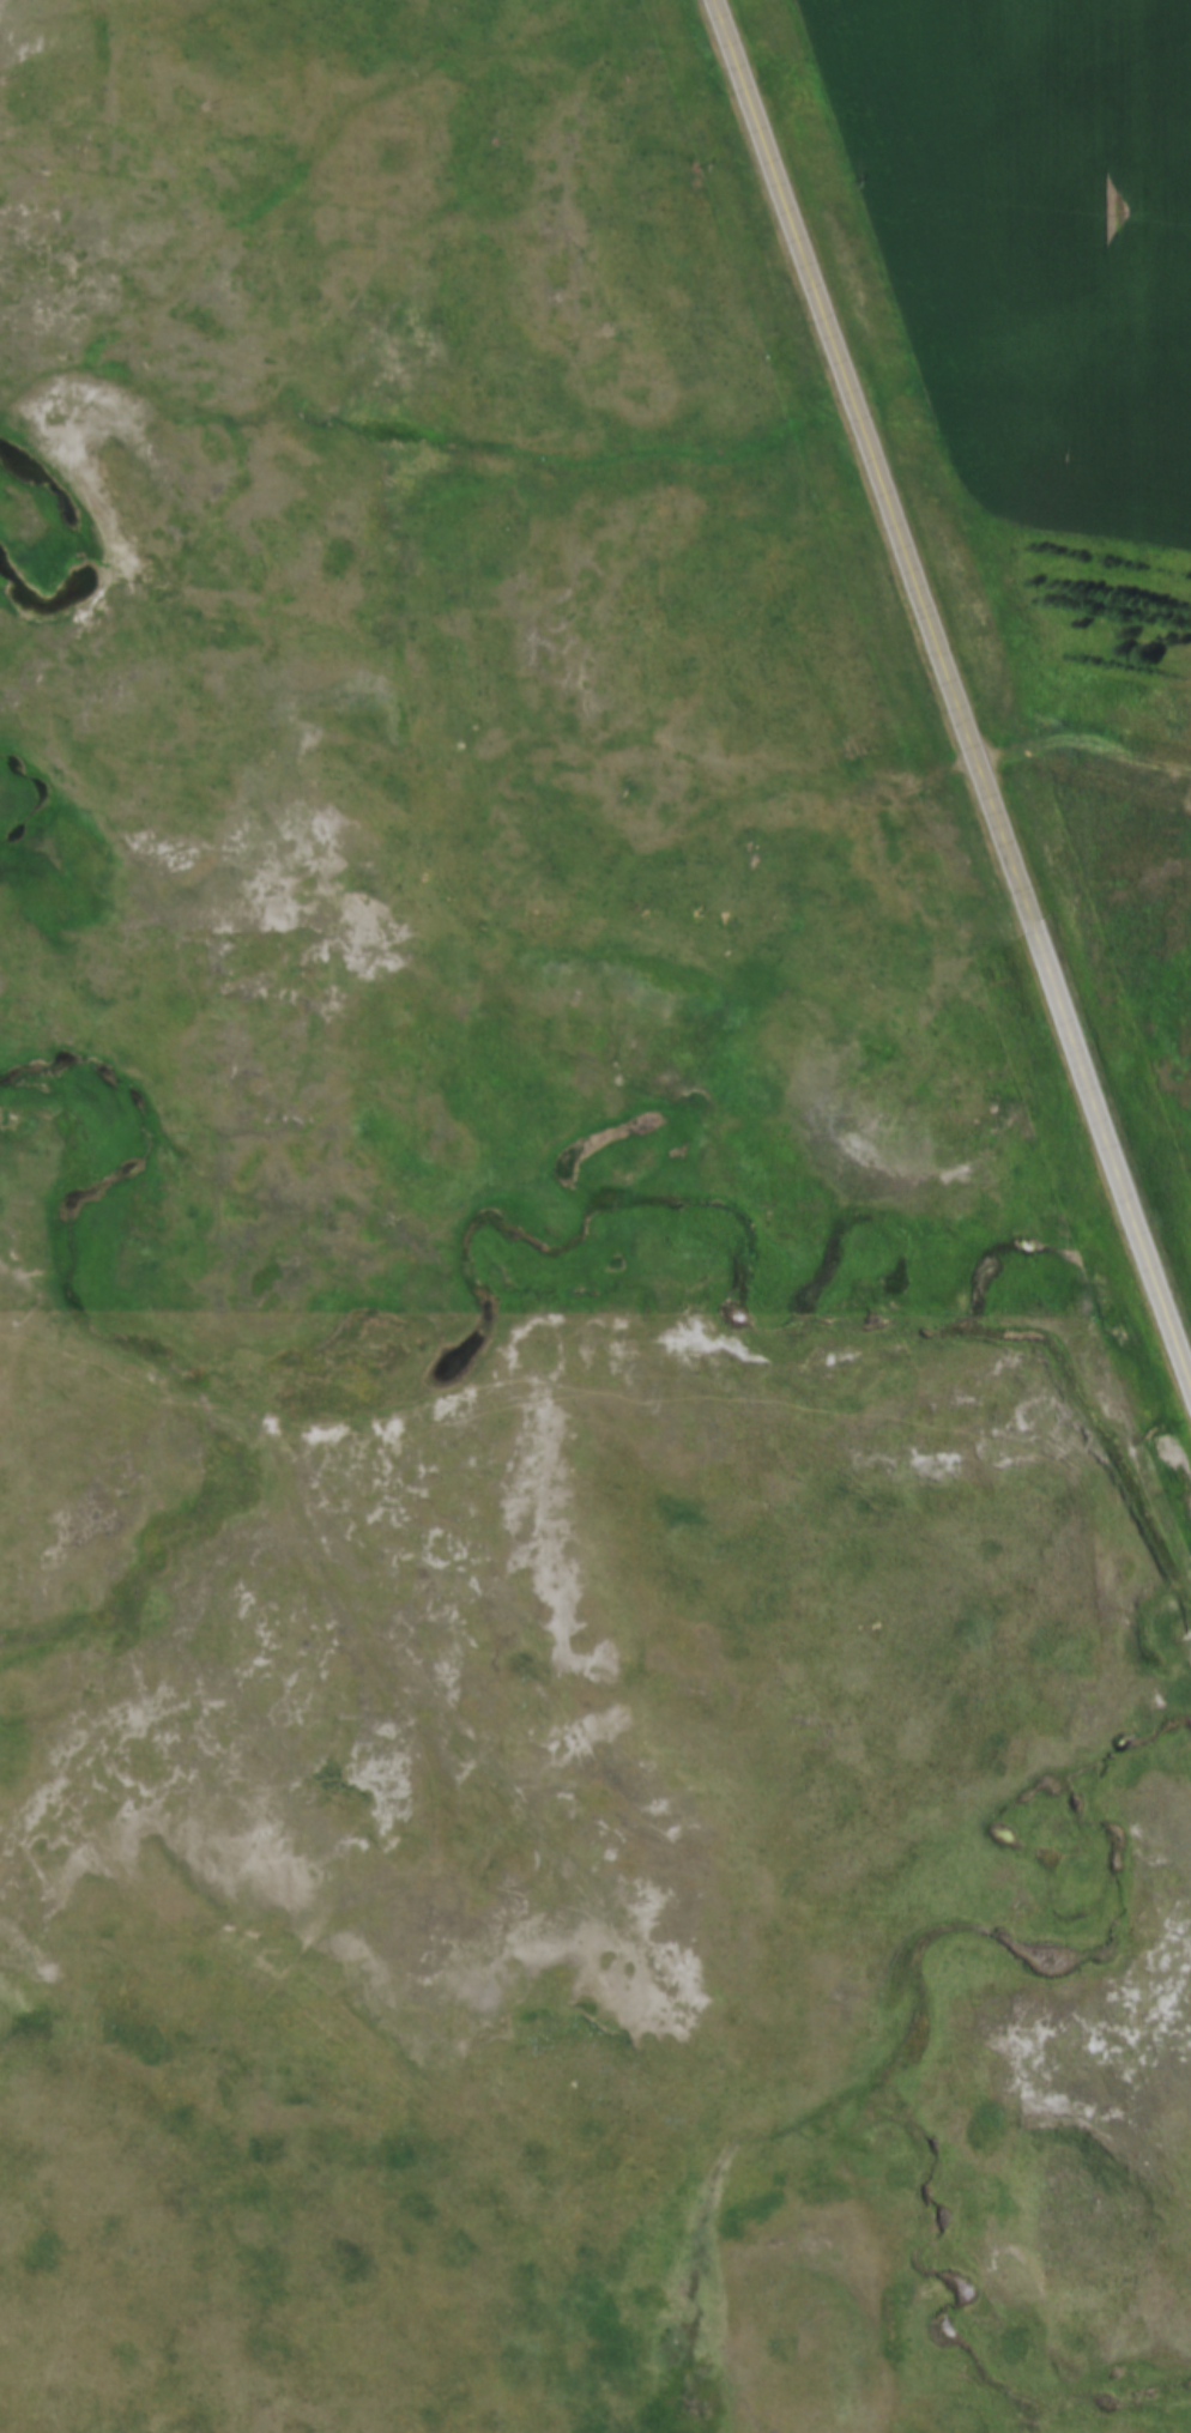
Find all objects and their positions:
road: (956, 677)
road: (1087, 743)

